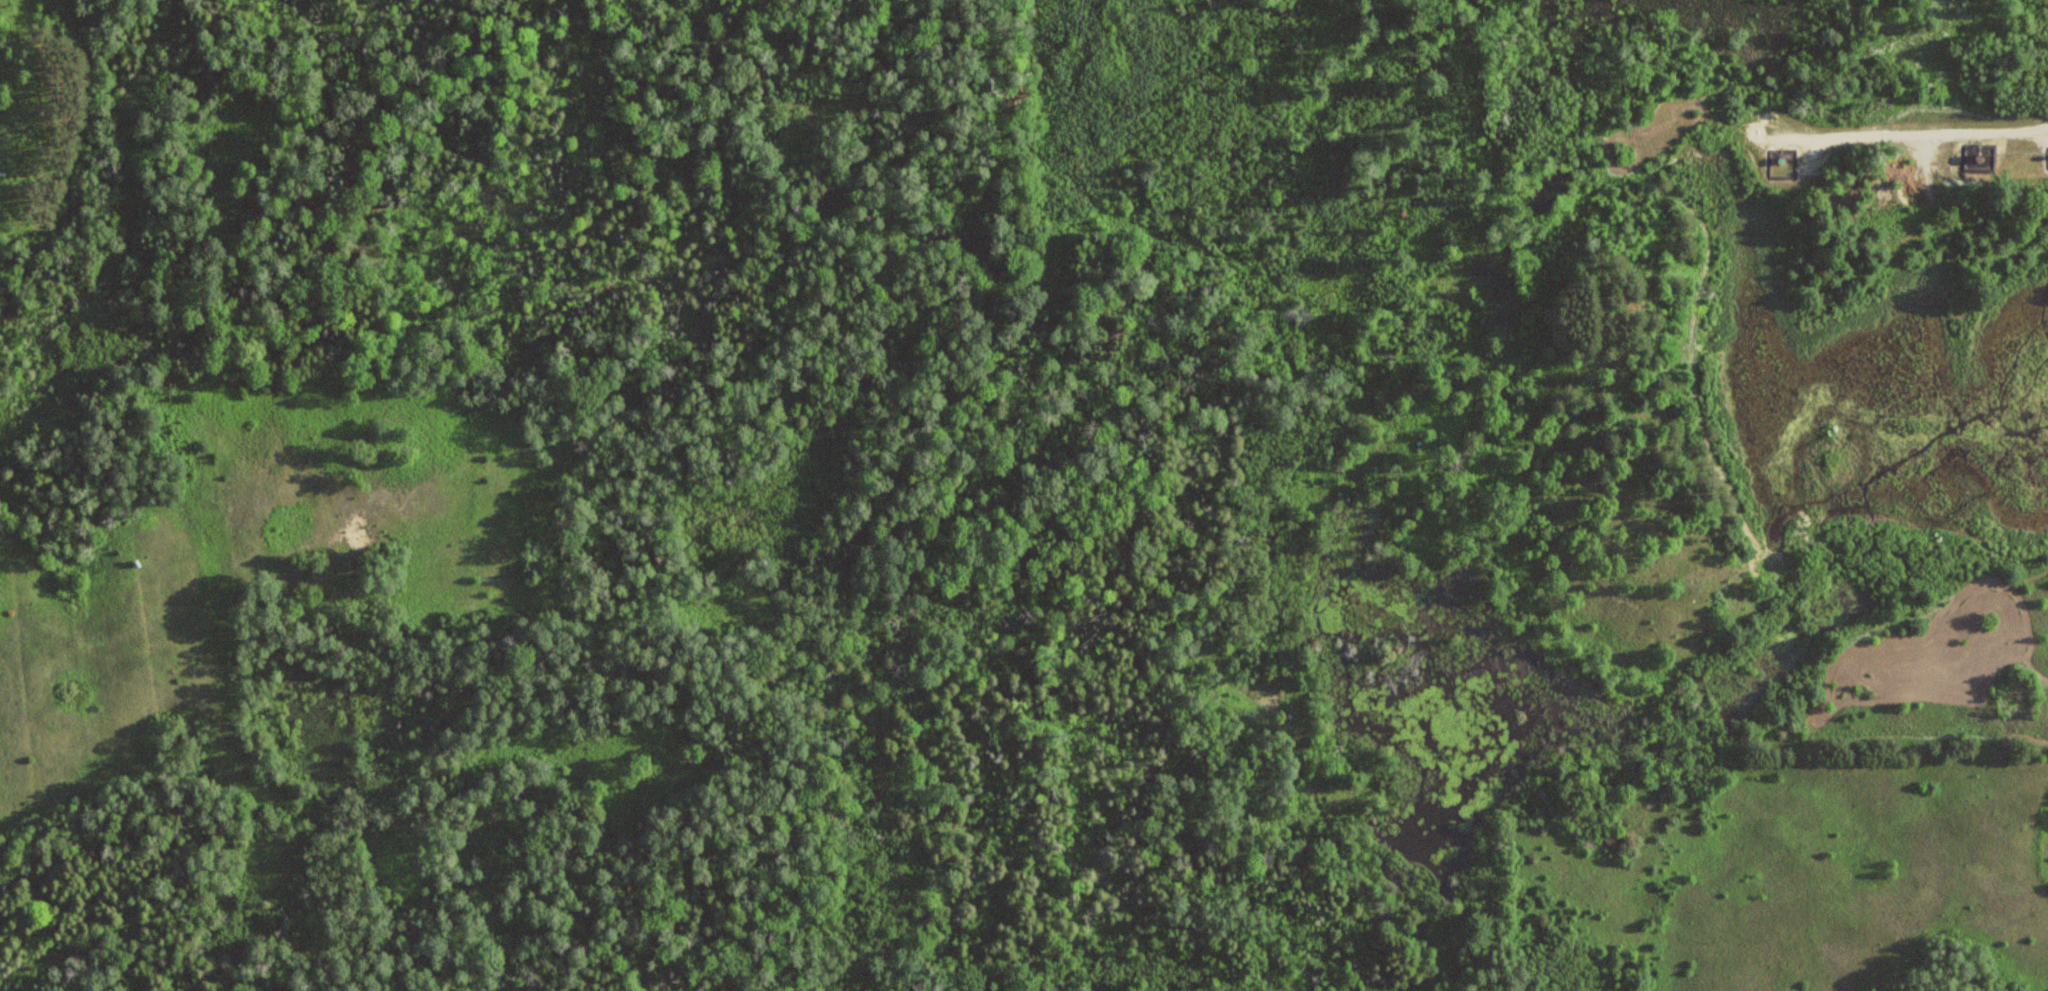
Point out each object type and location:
road: (1910, 134)
building: (1781, 163)

